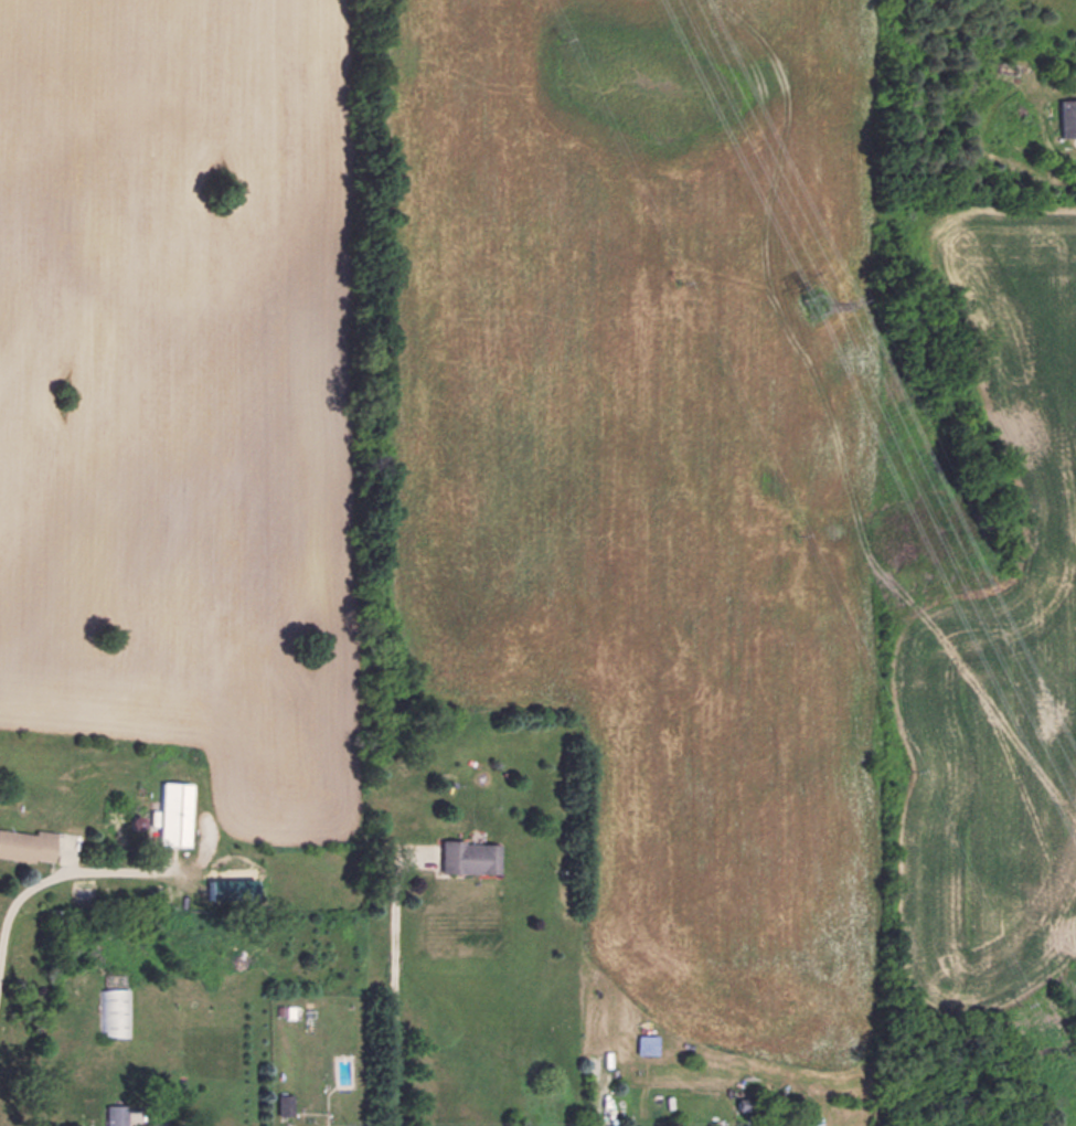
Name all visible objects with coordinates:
building: (1064, 117)
power tower: (809, 301)
building: (178, 812)
building: (28, 845)
building: (473, 856)
road: (55, 872)
road: (393, 1002)
building: (113, 1010)
building: (286, 1103)
building: (117, 1114)
building: (338, 1125)
building: (760, 1125)

